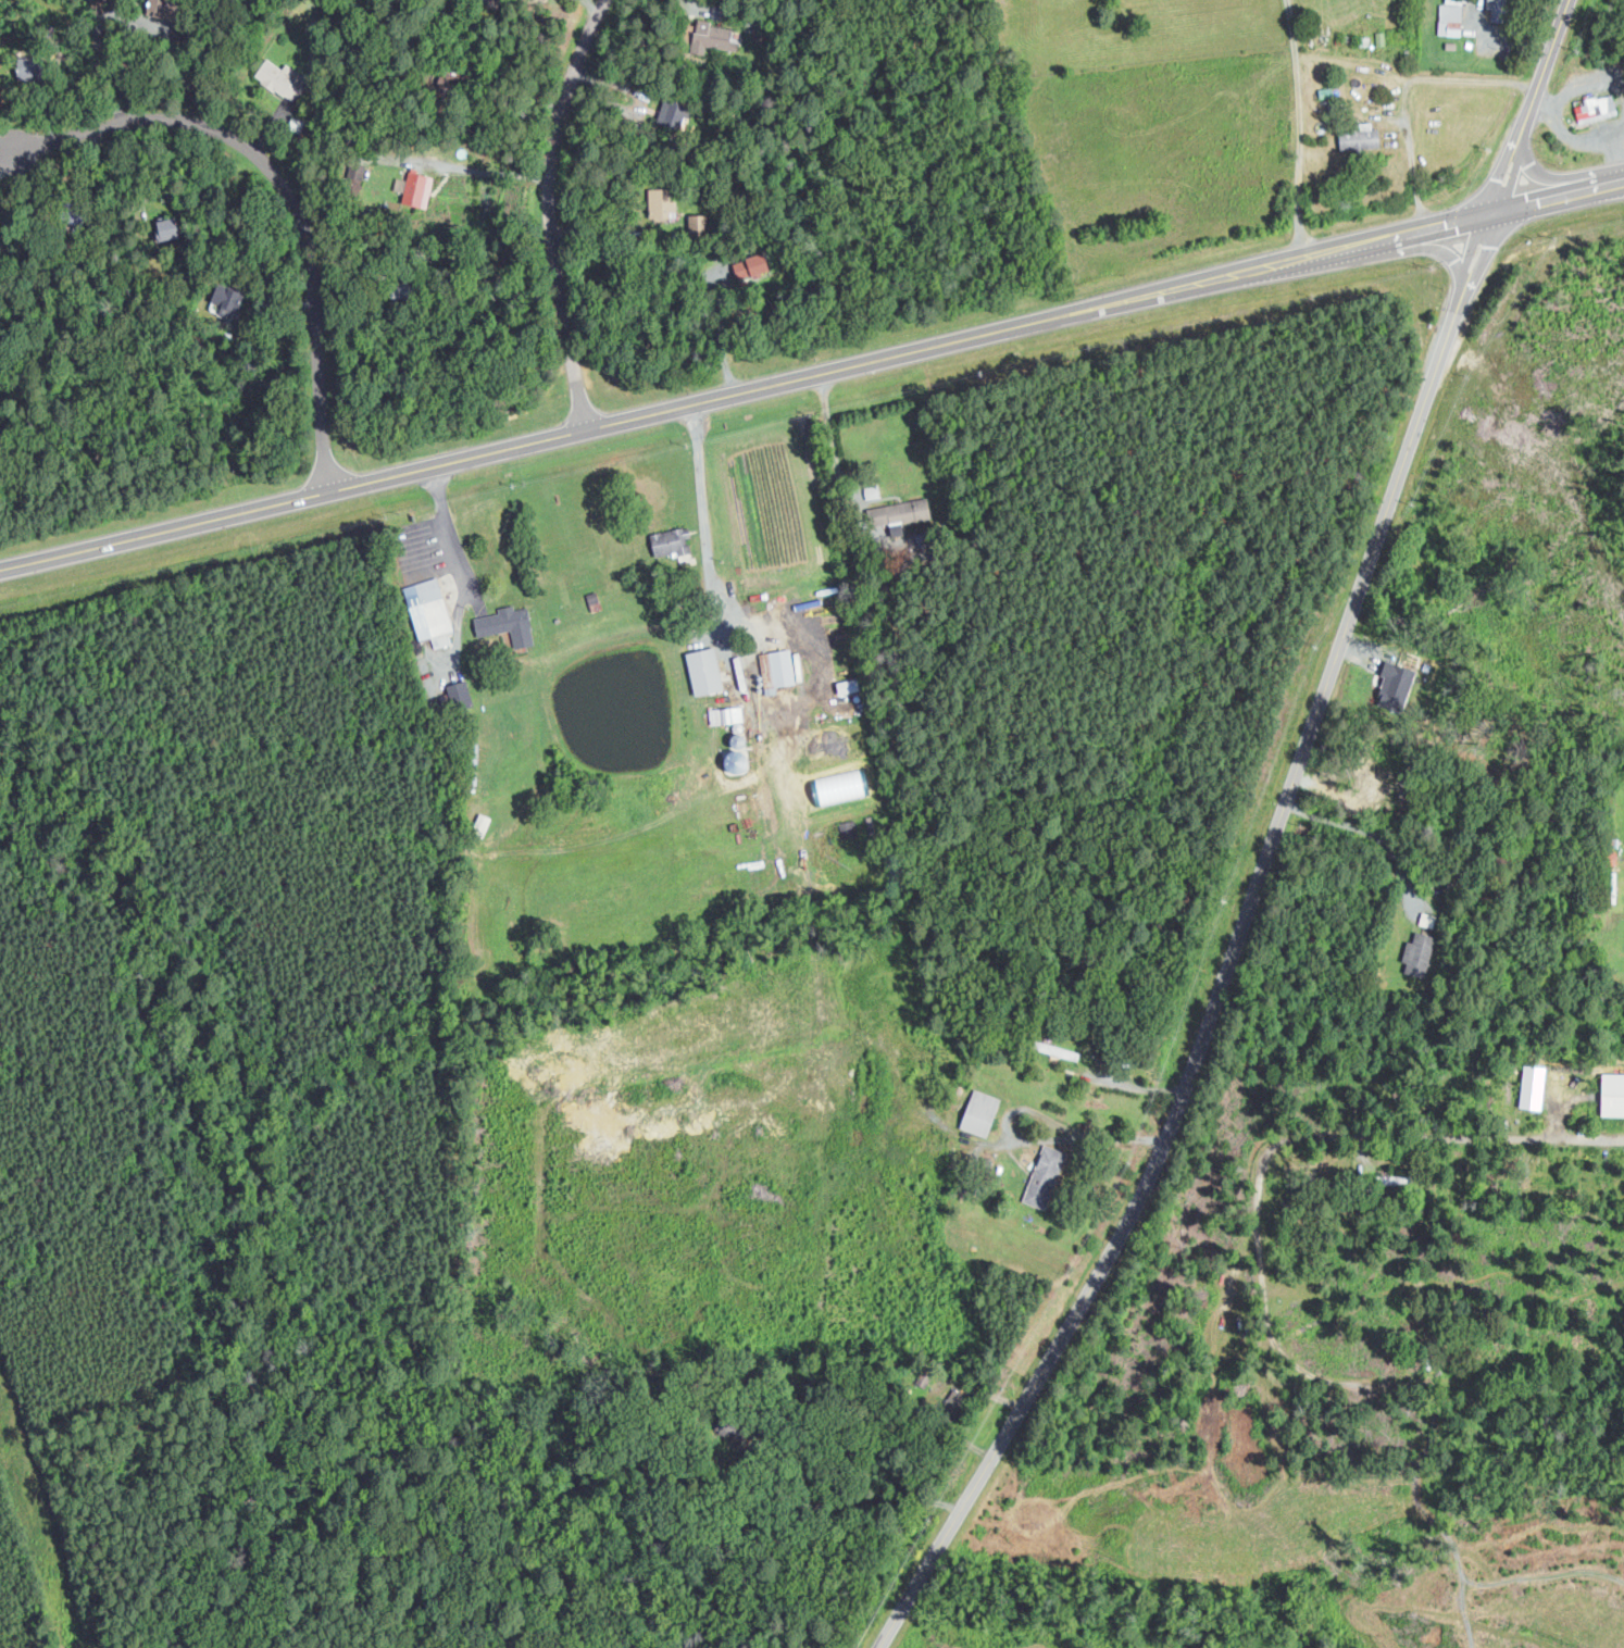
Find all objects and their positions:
building: (1501, 10)
building: (1450, 17)
building: (713, 36)
road: (1544, 64)
building: (280, 78)
road: (1588, 84)
road: (1406, 95)
road: (1544, 101)
building: (1597, 107)
building: (672, 114)
road: (1300, 129)
road: (1521, 137)
building: (1361, 138)
road: (1579, 139)
road: (4, 148)
road: (1616, 157)
road: (492, 173)
road: (1501, 173)
building: (354, 177)
road: (1511, 179)
road: (1544, 179)
road: (1615, 185)
building: (415, 188)
road: (286, 189)
road: (1597, 189)
building: (661, 203)
road: (1545, 203)
road: (554, 211)
traffic signals: (1502, 214)
traffic signals: (1485, 219)
road: (1454, 225)
building: (167, 228)
road: (1401, 238)
road: (1445, 247)
road: (1473, 249)
road: (1349, 250)
road: (490, 261)
building: (750, 265)
road: (1476, 271)
building: (226, 301)
road: (1456, 303)
road: (721, 335)
road: (651, 414)
road: (836, 447)
building: (872, 491)
building: (900, 514)
road: (451, 530)
building: (672, 541)
road: (707, 549)
building: (589, 596)
building: (428, 611)
building: (508, 625)
building: (776, 670)
building: (704, 672)
building: (847, 683)
building: (1396, 686)
building: (460, 696)
building: (726, 715)
building: (866, 822)
road: (1377, 835)
building: (1419, 954)
road: (1213, 1010)
building: (1613, 1094)
building: (979, 1112)
road: (1363, 1135)
road: (1035, 1139)
building: (1045, 1175)
road: (850, 1503)

